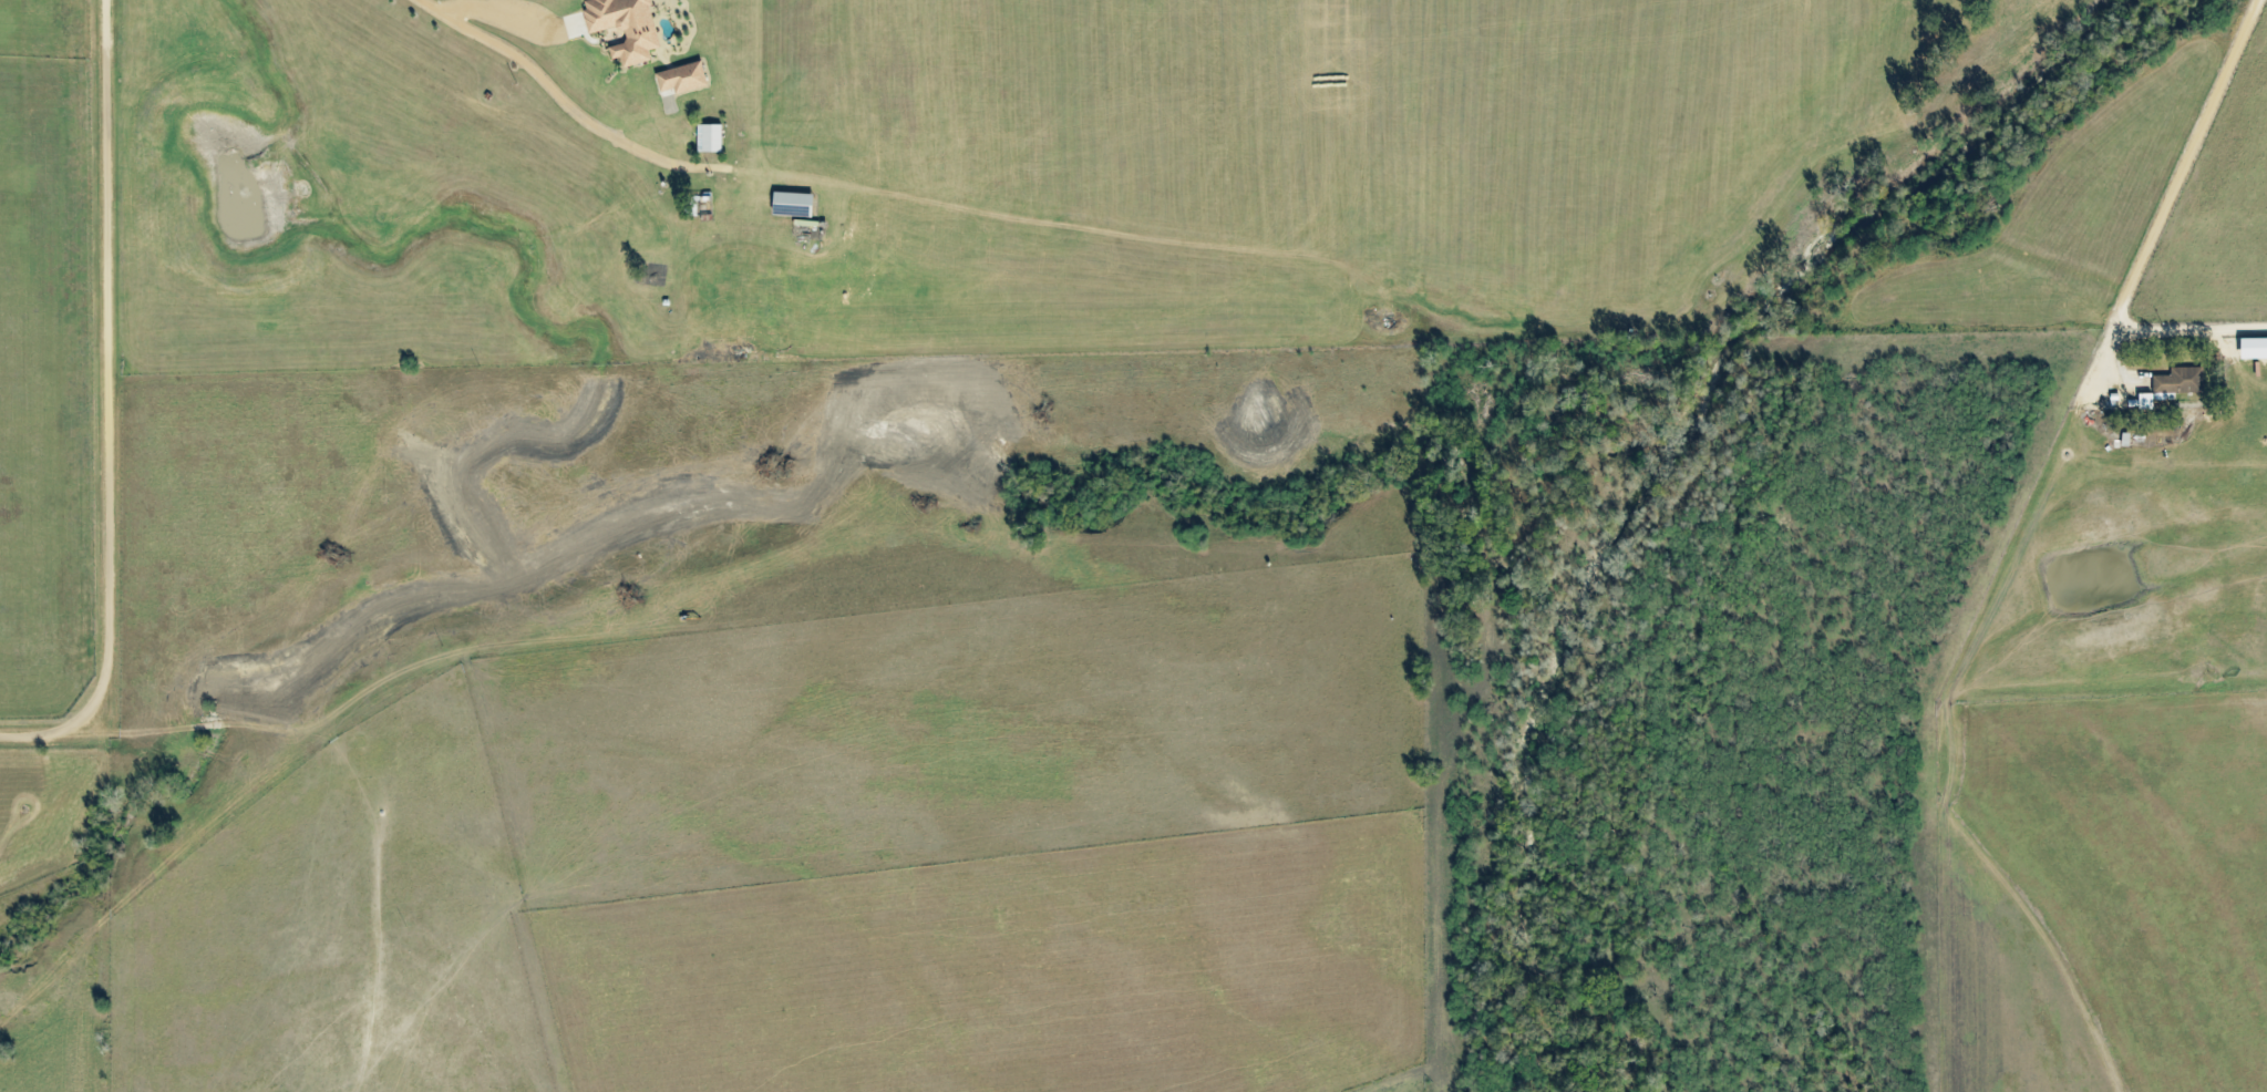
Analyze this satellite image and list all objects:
building: (626, 27)
building: (682, 78)
building: (709, 137)
building: (793, 203)
road: (2153, 233)
building: (2254, 348)
building: (2173, 384)
road: (111, 405)

